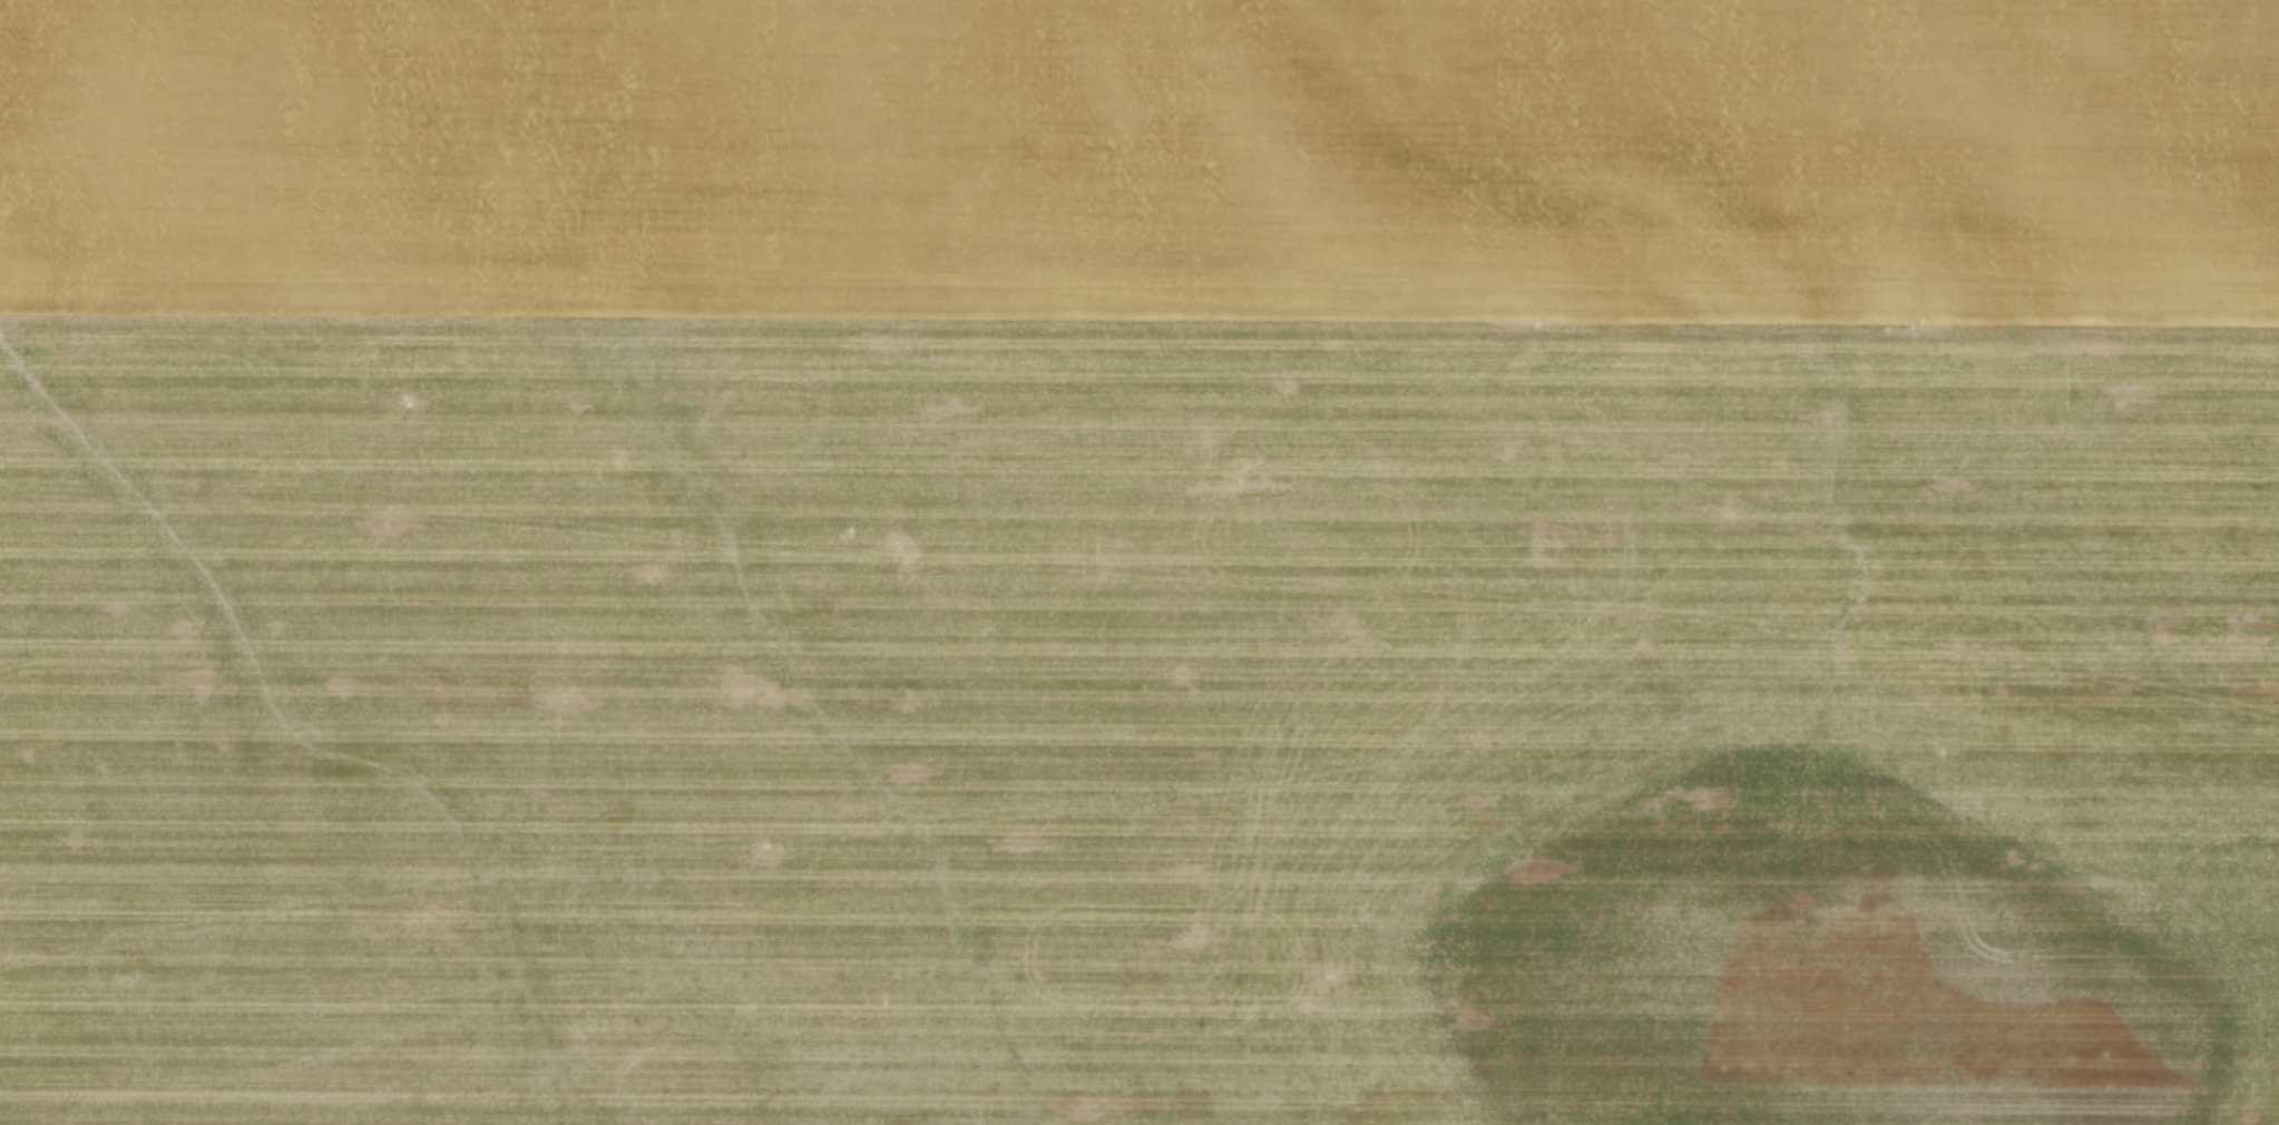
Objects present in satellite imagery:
crop: (1139, 562)

